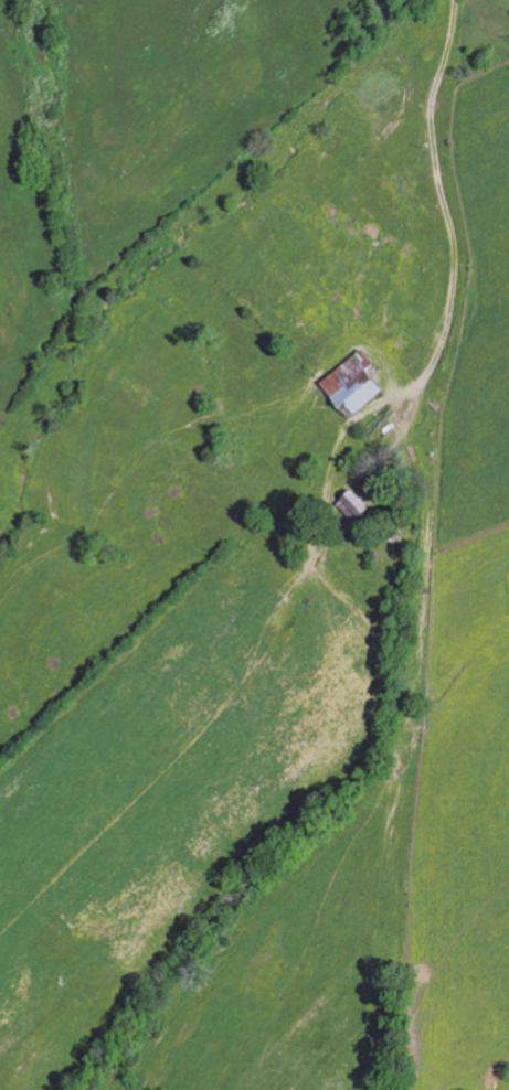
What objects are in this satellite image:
road: (443, 195)
building: (350, 383)
building: (349, 505)

